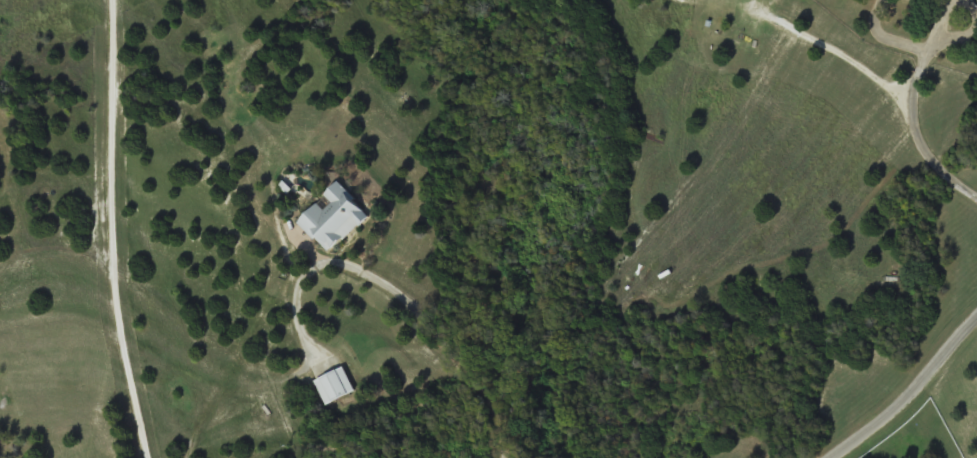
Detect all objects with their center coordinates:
building: (976, 0)
building: (938, 1)
road: (970, 188)
building: (337, 217)
building: (336, 385)
road: (904, 398)

